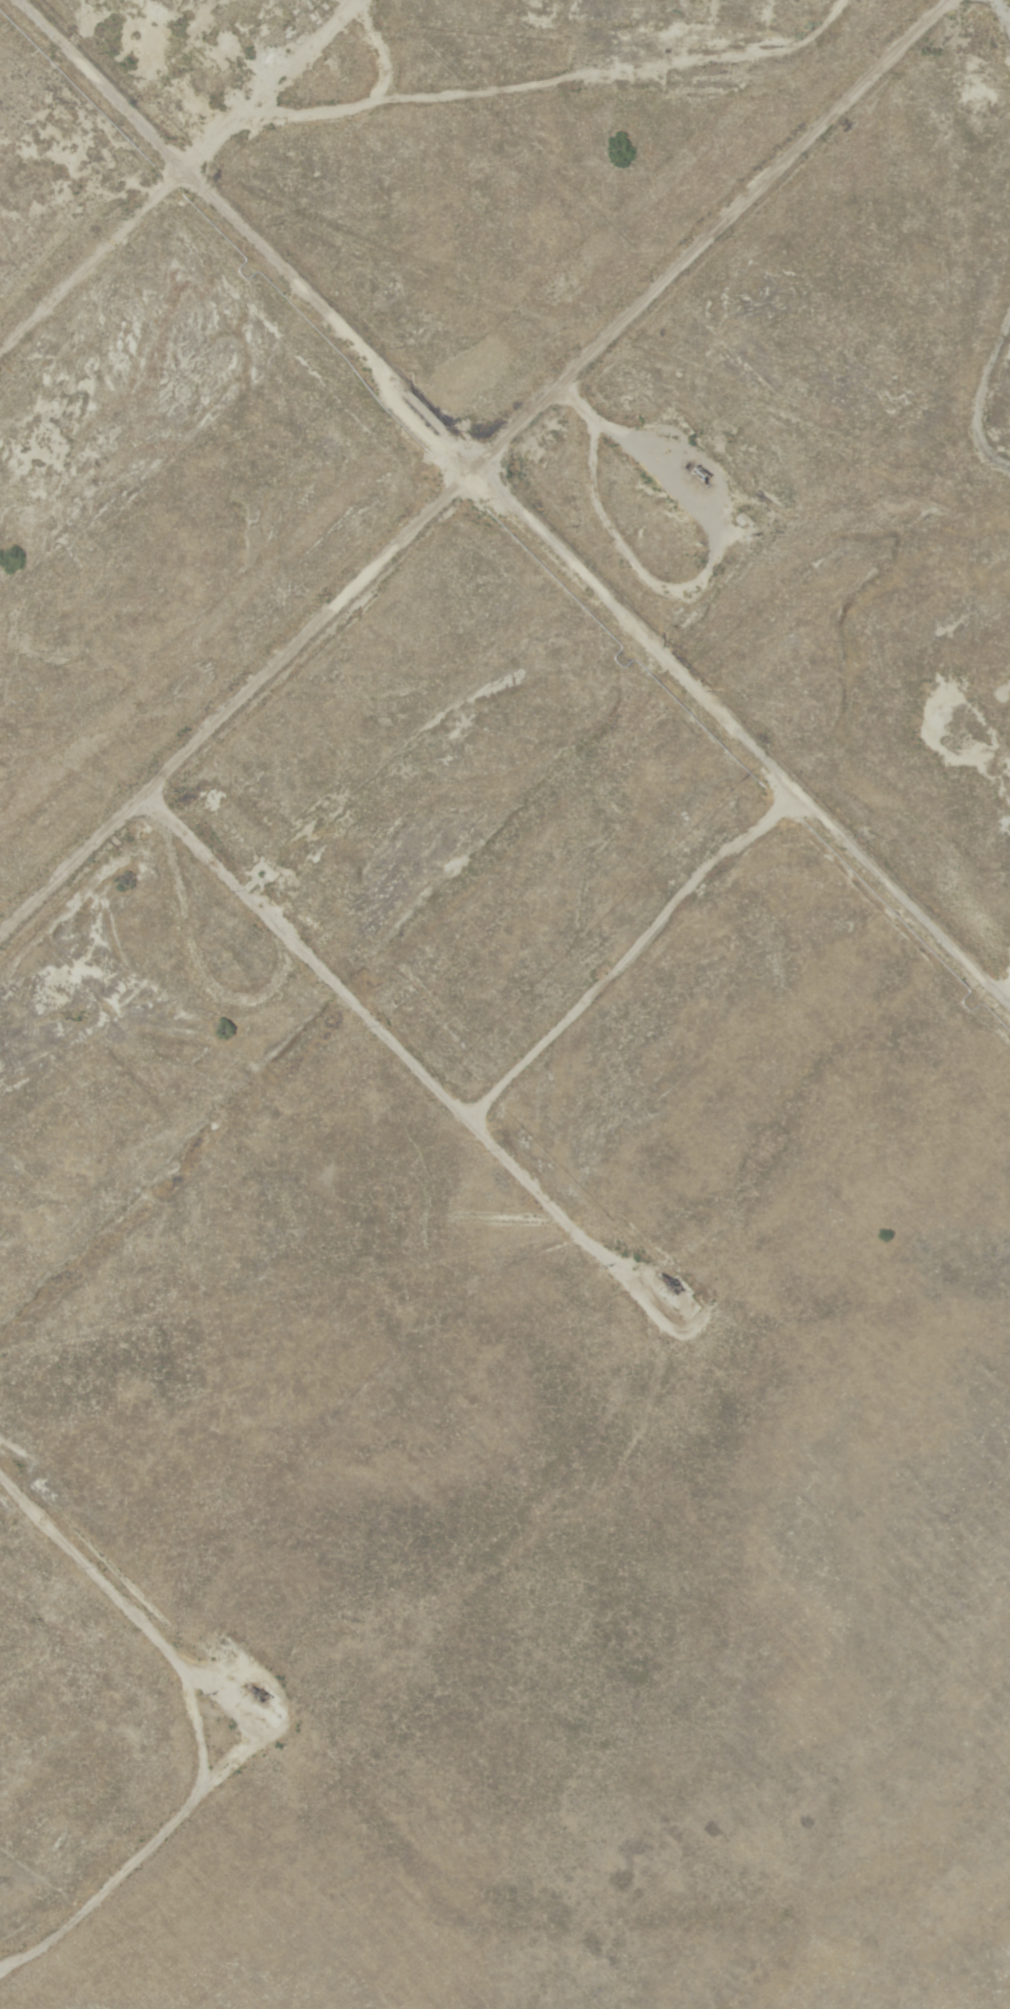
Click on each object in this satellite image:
road: (1002, 7)
road: (165, 169)
road: (991, 378)
road: (533, 393)
road: (502, 502)
road: (315, 964)
road: (1003, 1006)
road: (250, 1716)

